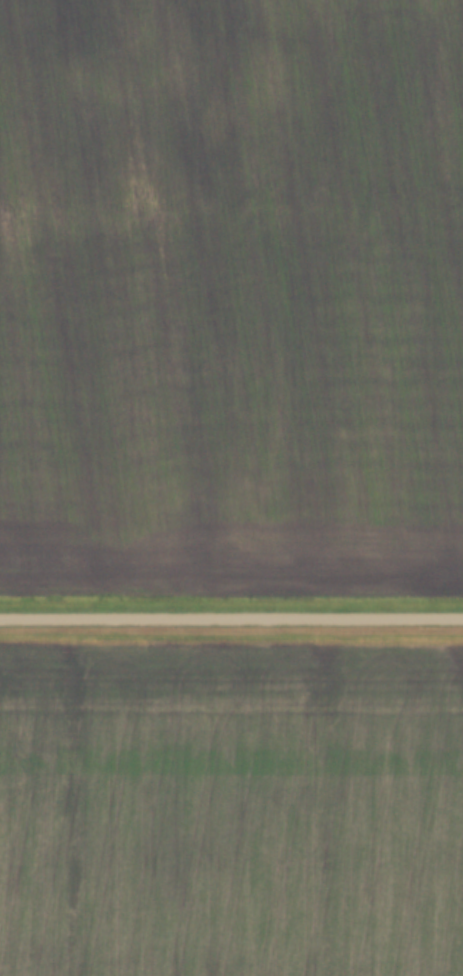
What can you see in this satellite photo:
road: (231, 620)

